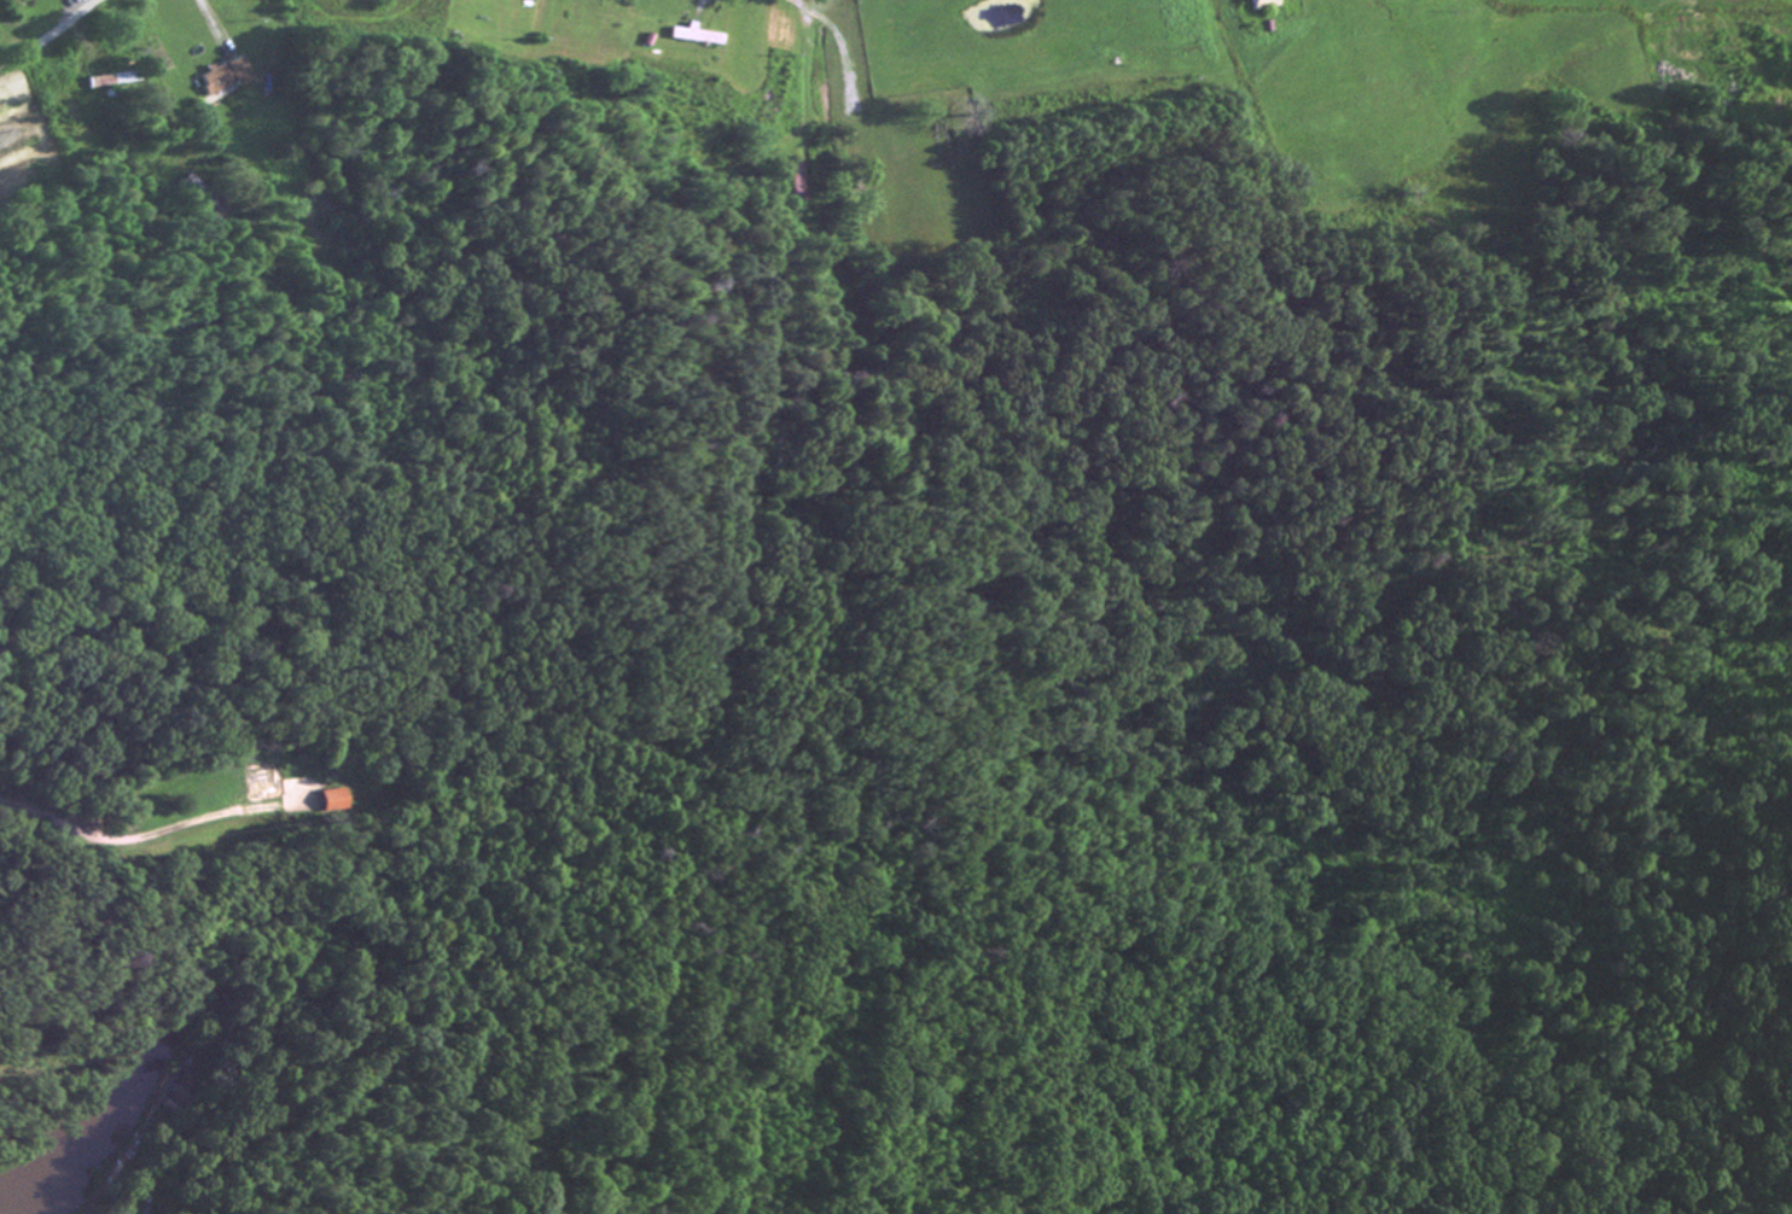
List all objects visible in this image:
road: (48, 34)
building: (691, 39)
building: (219, 78)
building: (100, 83)
building: (324, 804)
road: (153, 840)

